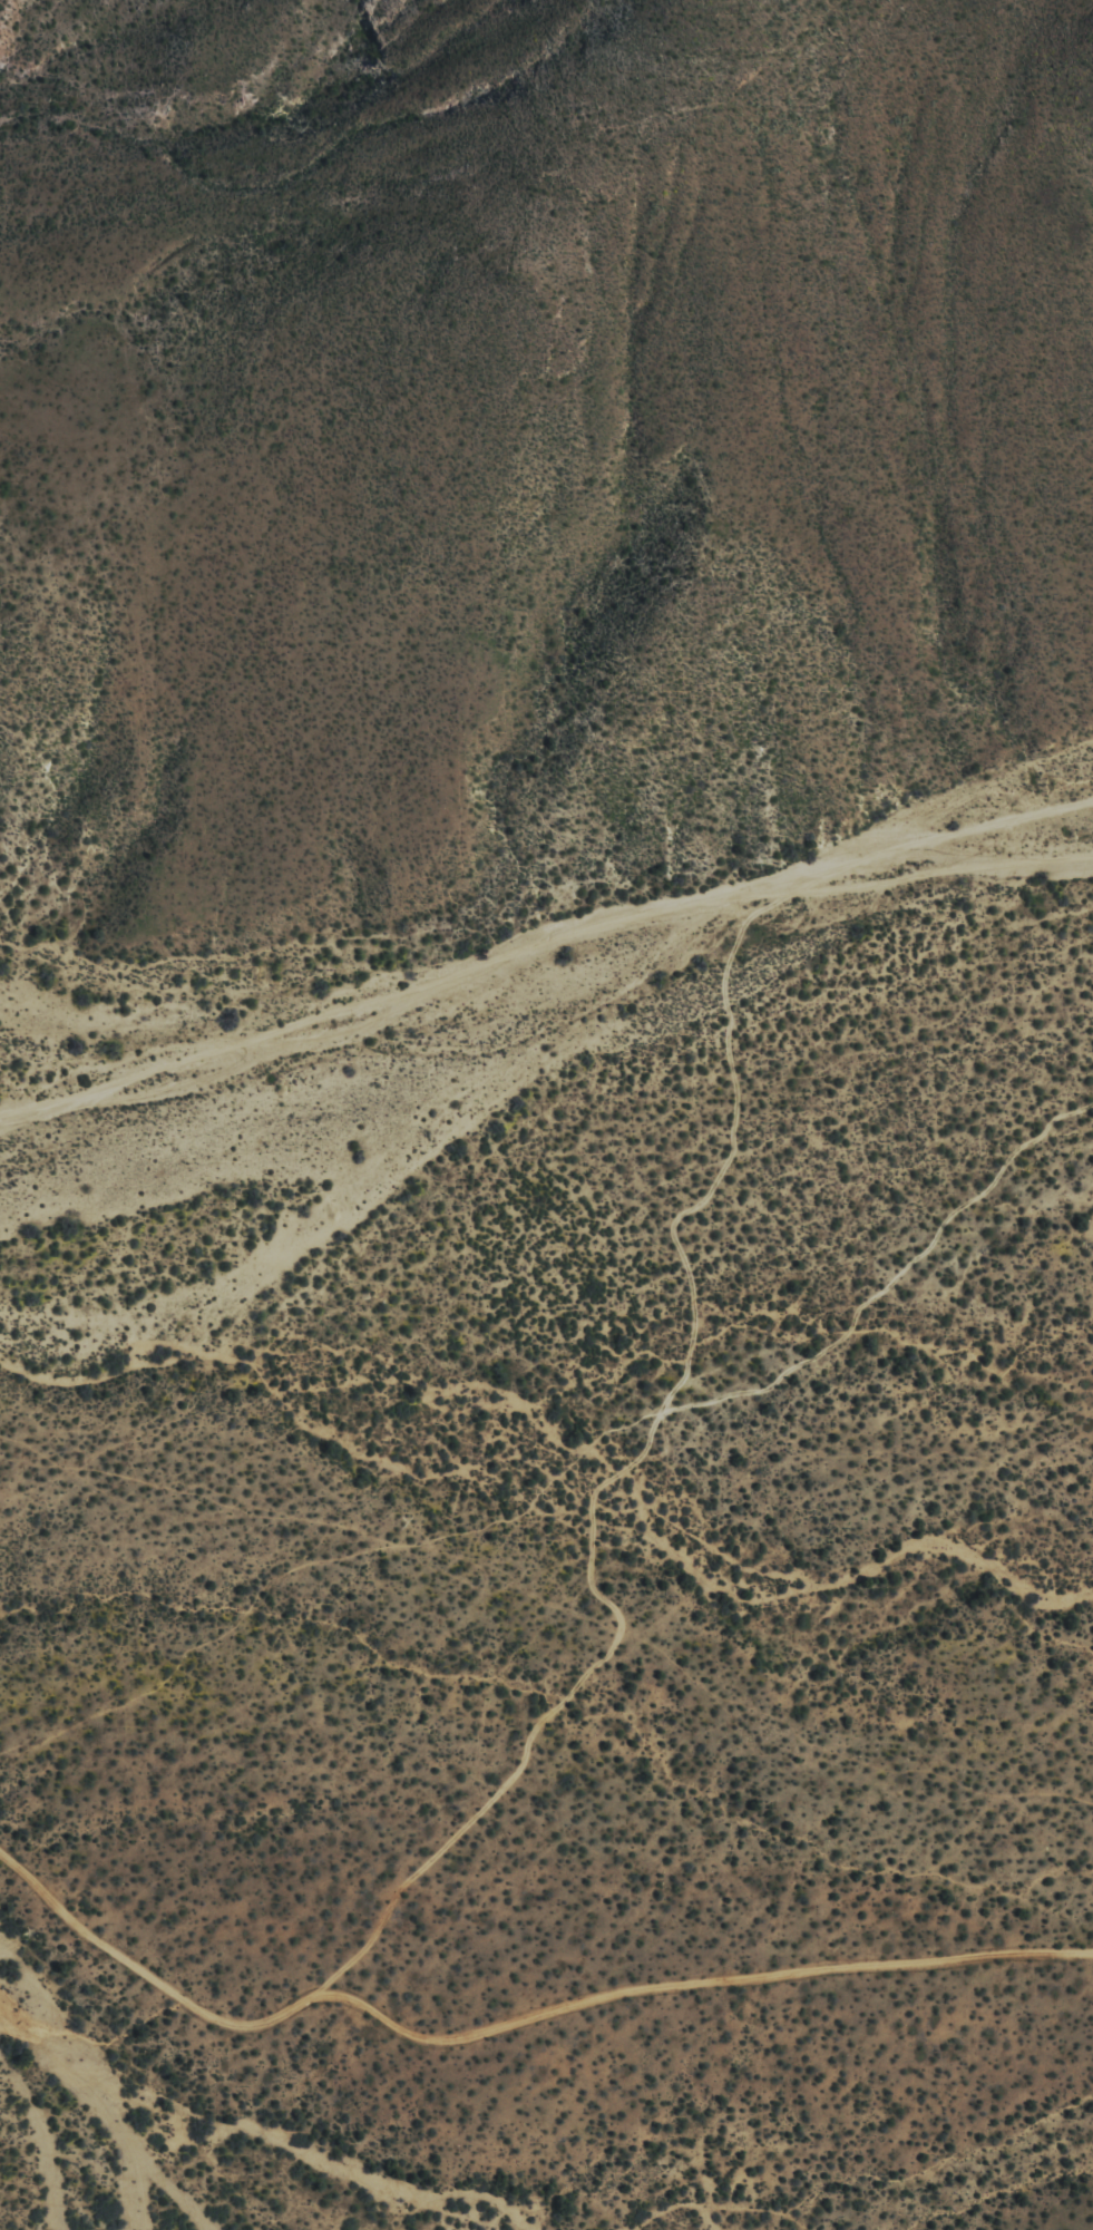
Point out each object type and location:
road: (509, 2024)

